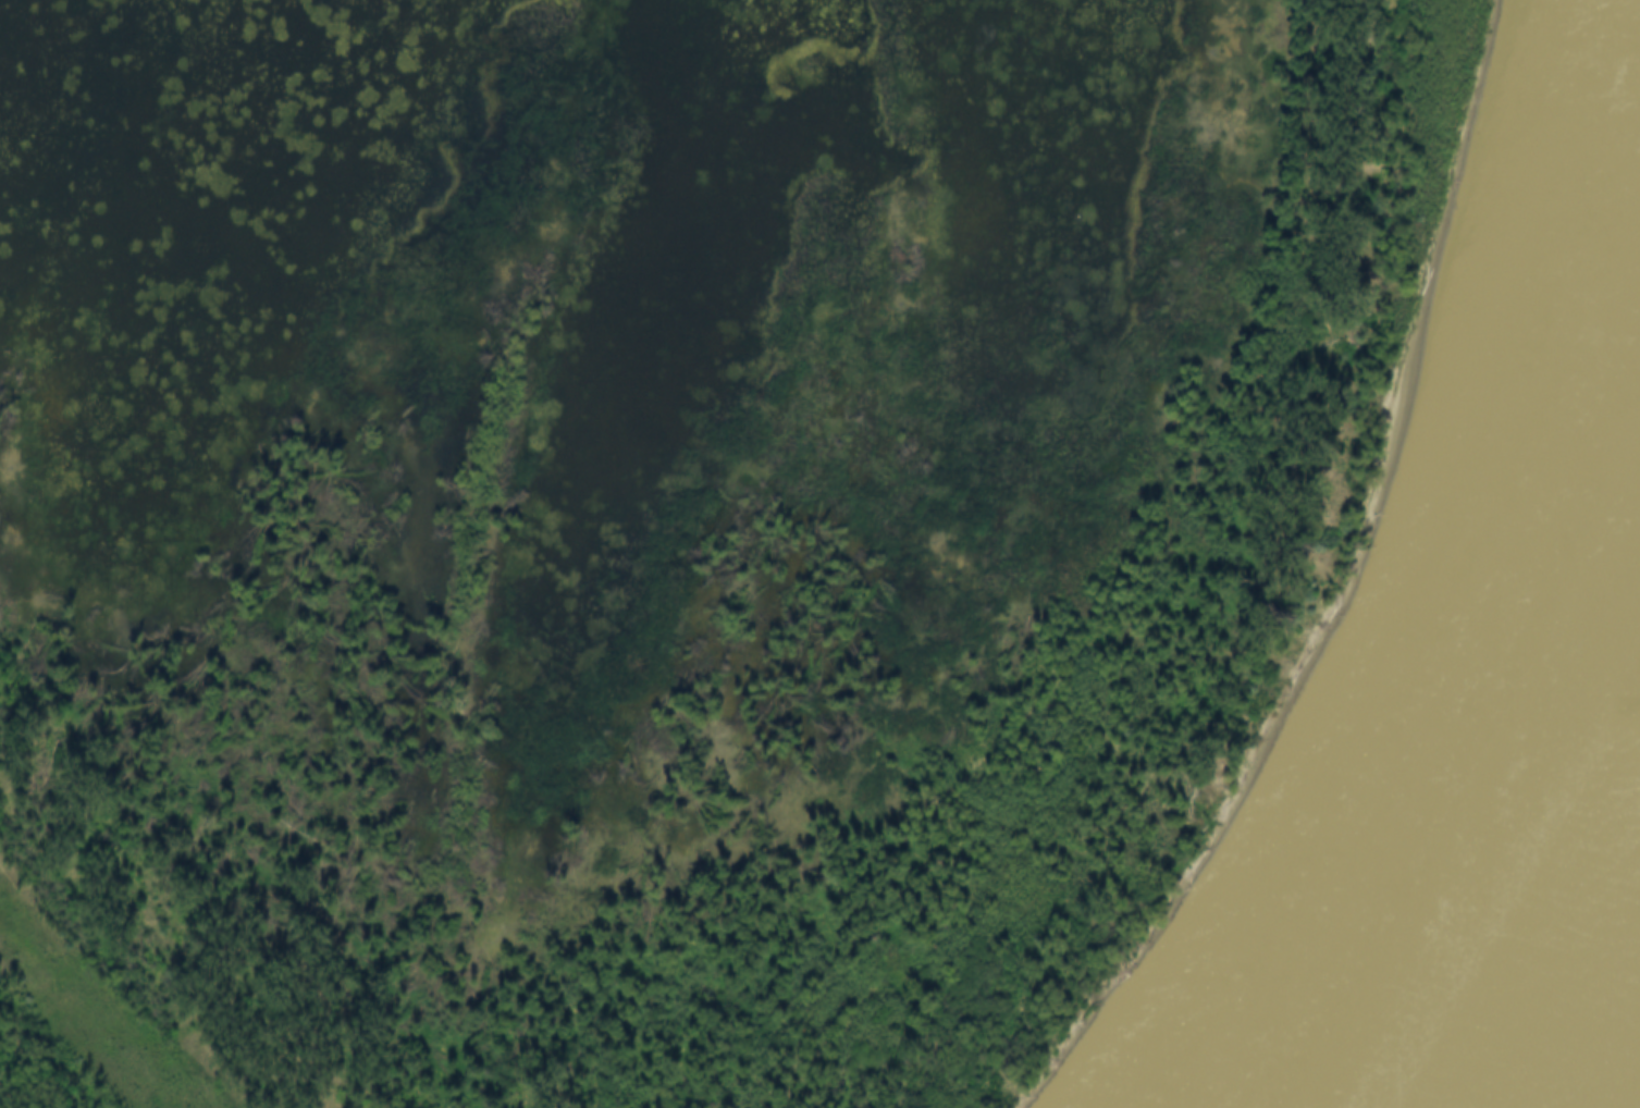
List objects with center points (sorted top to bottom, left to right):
river: (1529, 851)

